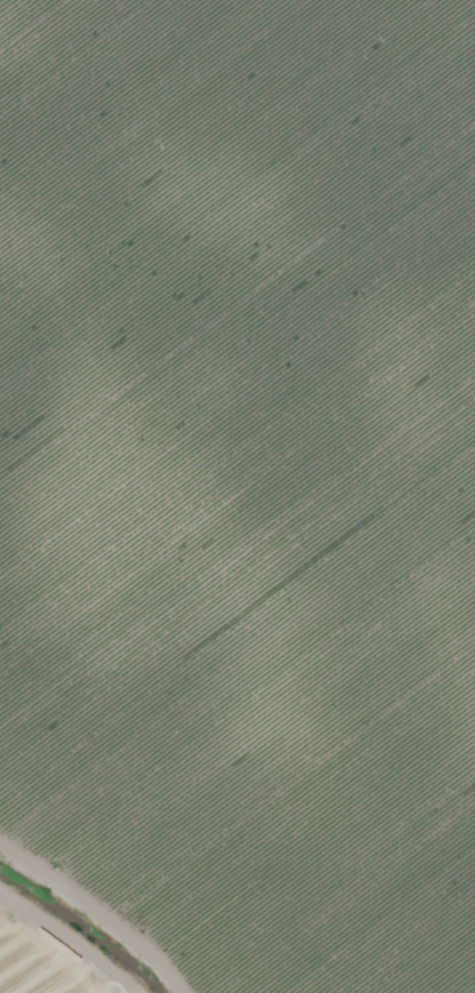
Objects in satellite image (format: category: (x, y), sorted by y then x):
crop: (237, 496)

